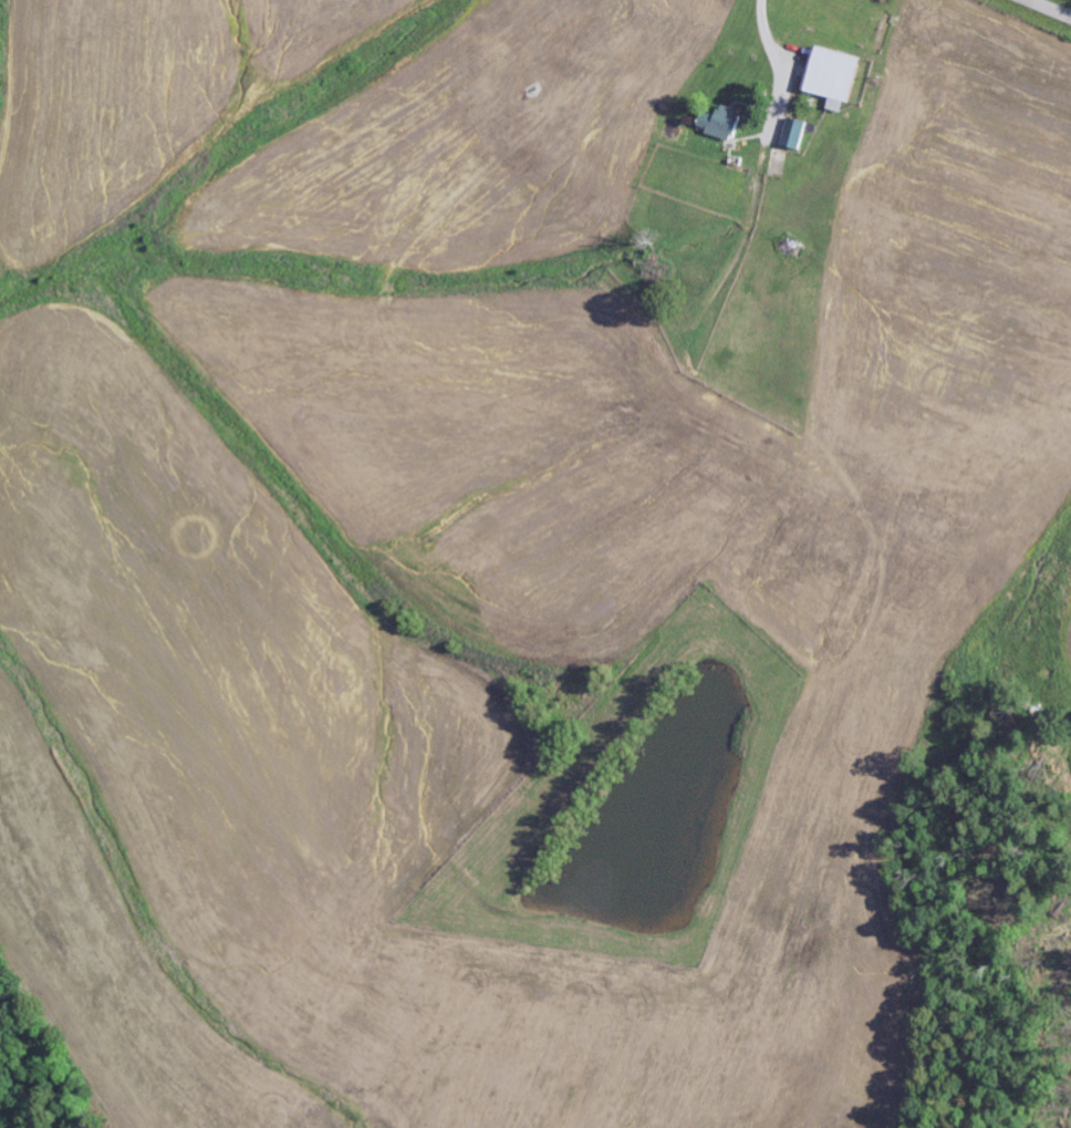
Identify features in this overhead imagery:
road: (1050, 8)
building: (835, 76)
building: (725, 123)
building: (797, 133)

